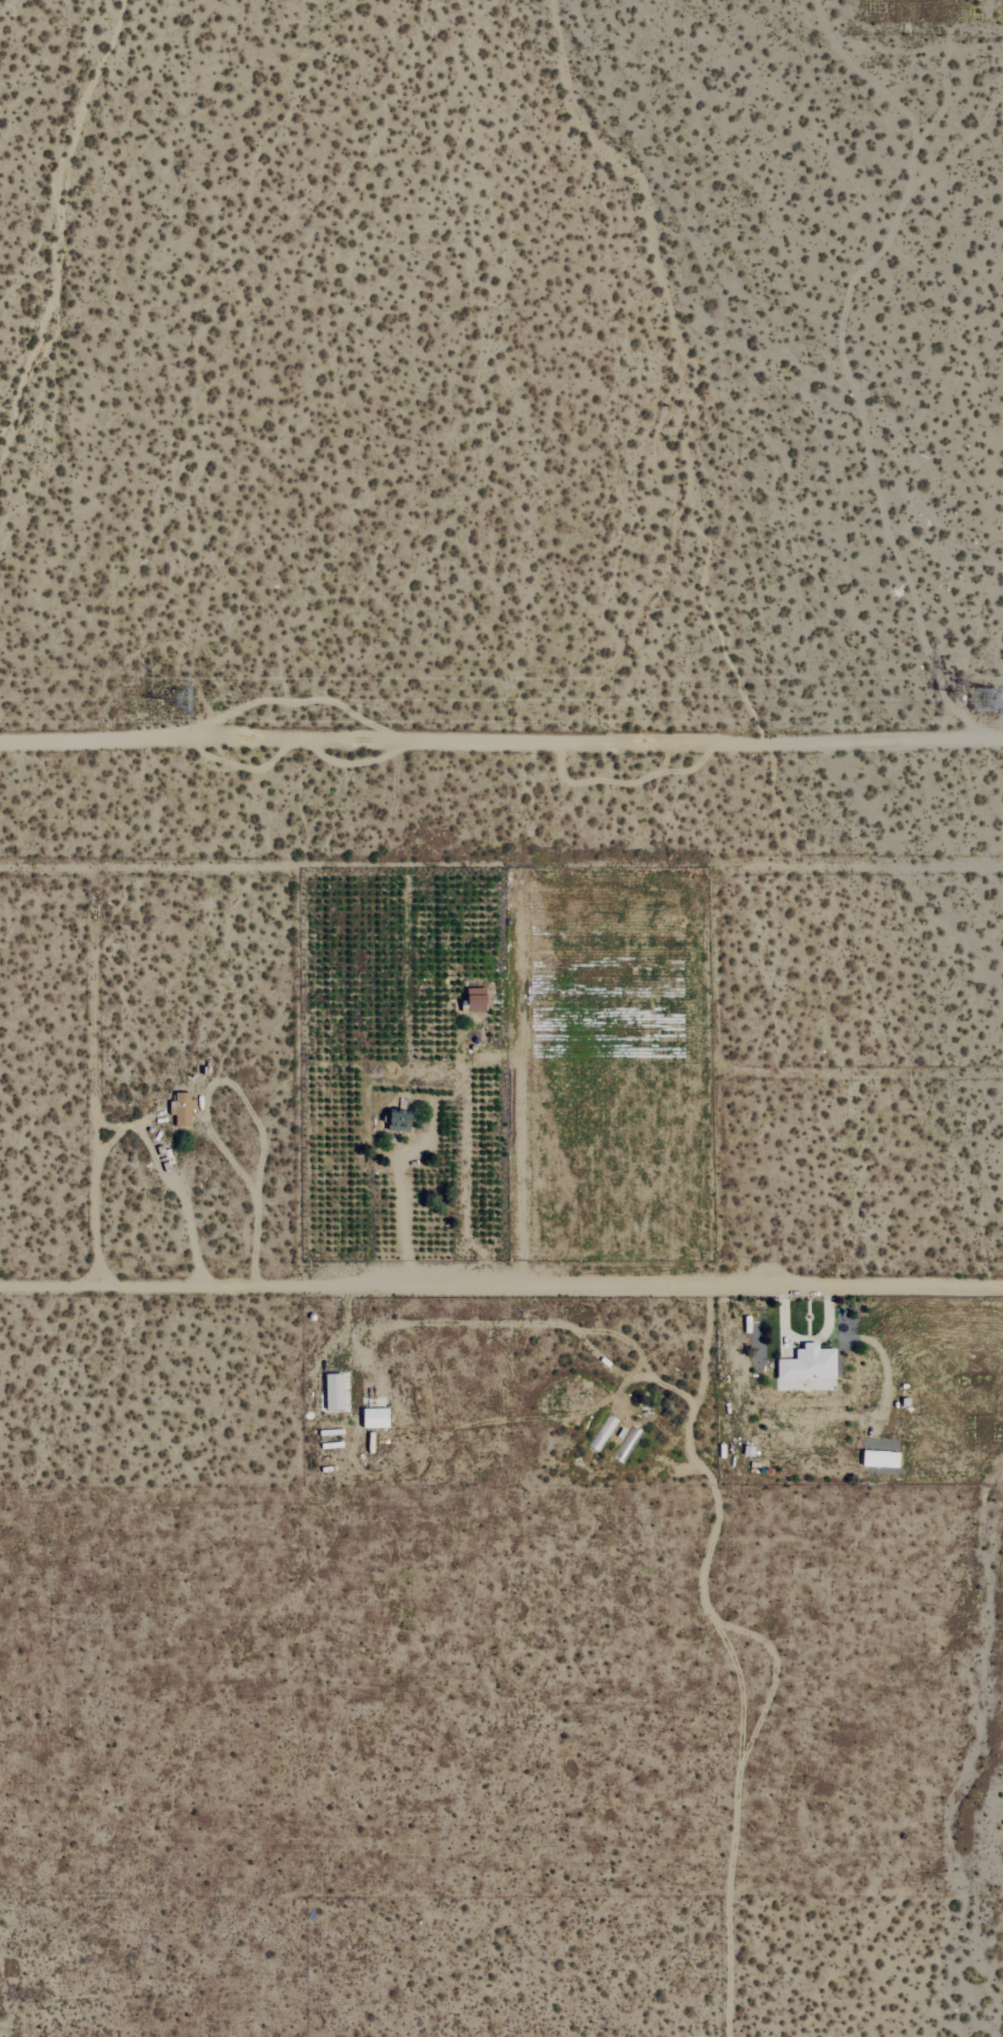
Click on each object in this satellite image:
power tower: (206, 697)
power tower: (993, 700)
road: (501, 742)
building: (472, 1000)
road: (185, 1083)
building: (182, 1108)
building: (393, 1120)
road: (186, 1130)
road: (185, 1198)
road: (402, 1222)
road: (501, 1287)
road: (346, 1311)
road: (556, 1323)
road: (705, 1349)
road: (369, 1359)
building: (805, 1364)
road: (670, 1387)
building: (330, 1392)
building: (371, 1418)
building: (877, 1459)
road: (774, 1673)
road: (741, 1714)

